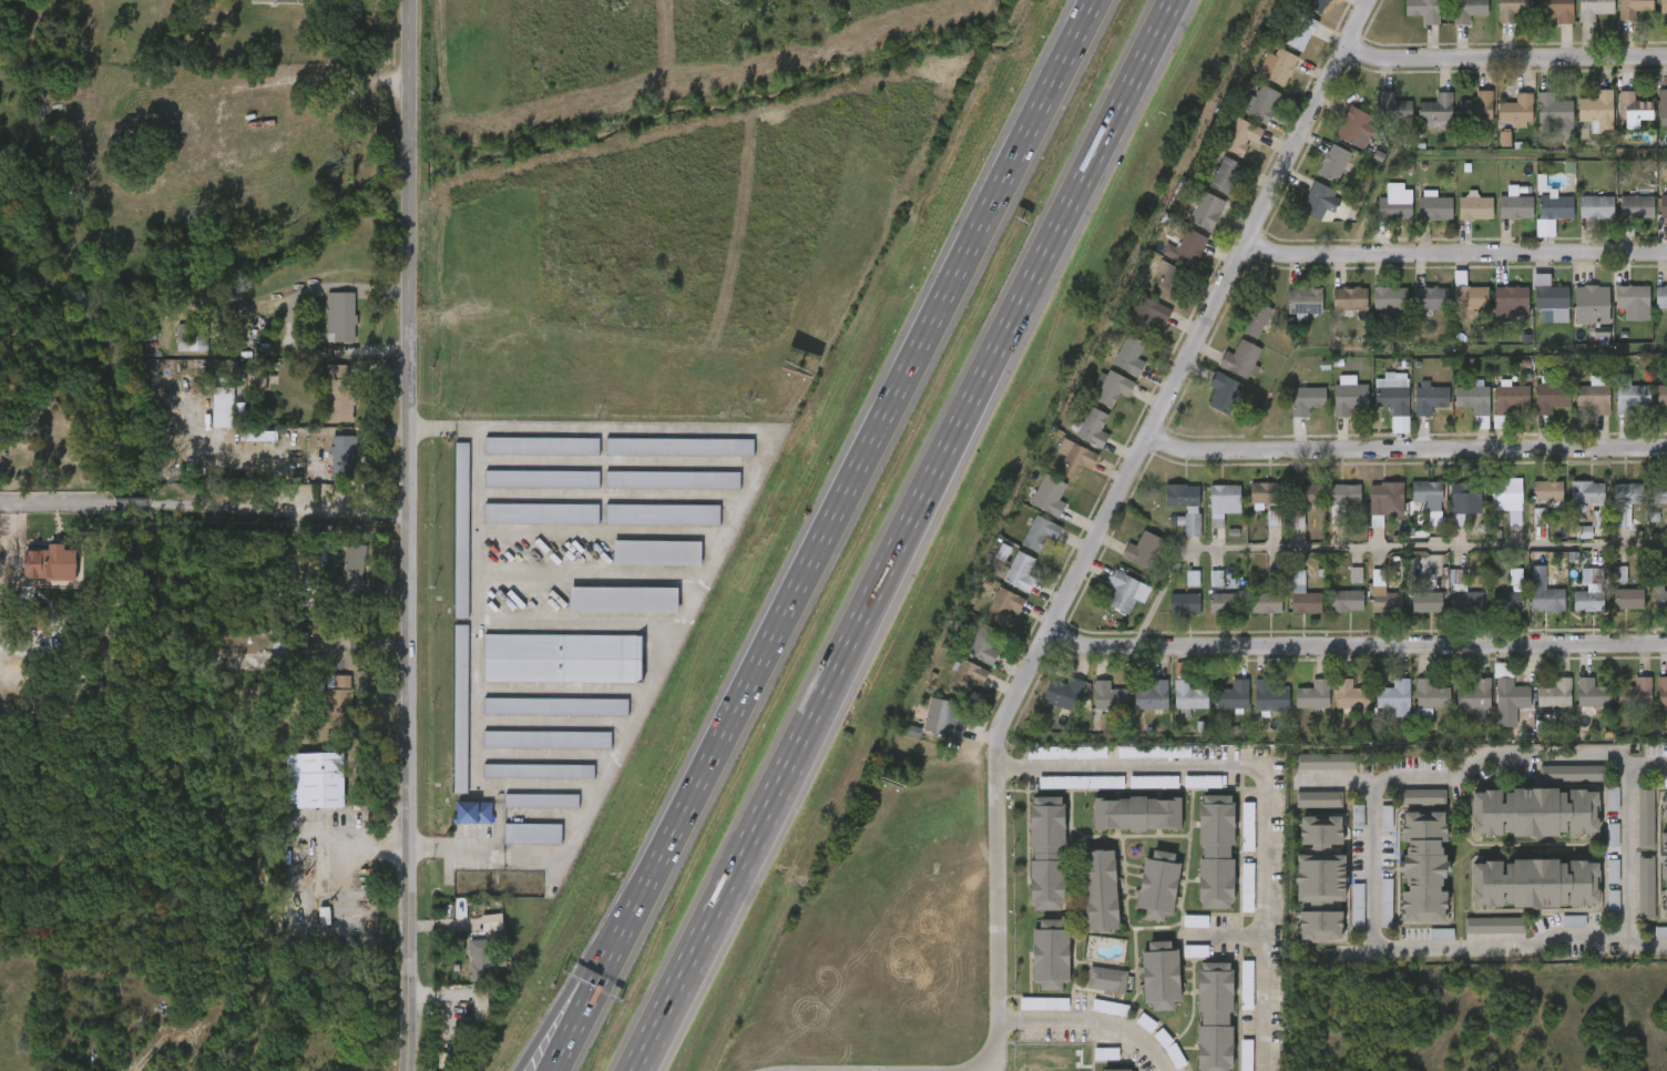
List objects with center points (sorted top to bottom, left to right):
building: (1316, 3)
building: (258, 8)
building: (1632, 8)
building: (1512, 9)
building: (1593, 9)
building: (1301, 10)
building: (1422, 10)
building: (1467, 10)
building: (1556, 10)
building: (1663, 11)
building: (1408, 18)
building: (1578, 18)
building: (1618, 18)
building: (1540, 19)
building: (1452, 21)
building: (1300, 31)
building: (1284, 45)
road: (1505, 58)
building: (1281, 67)
building: (1262, 79)
building: (1260, 103)
building: (1663, 103)
building: (1476, 106)
building: (1393, 108)
building: (1435, 108)
building: (1634, 108)
building: (1515, 110)
building: (1597, 110)
building: (1554, 114)
building: (1245, 118)
building: (1653, 118)
building: (1461, 120)
building: (1377, 121)
building: (1420, 123)
building: (1617, 123)
building: (1501, 124)
building: (1581, 125)
building: (1352, 126)
building: (1540, 126)
building: (1240, 135)
building: (1339, 141)
building: (1225, 149)
building: (1490, 151)
building: (1332, 163)
building: (1225, 174)
building: (1317, 176)
building: (1208, 187)
building: (1318, 201)
building: (1394, 204)
building: (1663, 206)
building: (1434, 207)
building: (1475, 207)
building: (1515, 207)
building: (1555, 207)
building: (1594, 207)
building: (1636, 207)
building: (1206, 211)
building: (1303, 214)
building: (1379, 216)
building: (1620, 218)
building: (1499, 220)
building: (1419, 221)
building: (1459, 221)
building: (1579, 221)
building: (1190, 224)
building: (1536, 225)
building: (1187, 248)
road: (1455, 253)
building: (1170, 262)
building: (1169, 283)
building: (1152, 293)
building: (1660, 297)
building: (1389, 298)
building: (1430, 298)
building: (1510, 298)
building: (1630, 298)
building: (1349, 300)
building: (1551, 300)
building: (1303, 302)
building: (1591, 306)
building: (1653, 309)
building: (1454, 310)
building: (1494, 310)
building: (1333, 312)
building: (1373, 312)
building: (1414, 312)
building: (1534, 313)
building: (1146, 314)
building: (1288, 314)
building: (1616, 315)
building: (1575, 318)
building: (1254, 319)
building: (1131, 326)
building: (325, 329)
building: (1239, 333)
building: (176, 351)
building: (1128, 355)
building: (1240, 359)
building: (1114, 368)
building: (1226, 373)
building: (256, 378)
road: (978, 381)
building: (1112, 388)
building: (338, 390)
building: (241, 392)
building: (1223, 394)
building: (1391, 395)
building: (1661, 396)
building: (1348, 398)
building: (1429, 398)
building: (1552, 398)
building: (1306, 399)
building: (1632, 399)
building: (1472, 400)
building: (1512, 400)
building: (1593, 400)
building: (1096, 401)
building: (320, 404)
building: (224, 405)
building: (1207, 406)
building: (1332, 409)
building: (1577, 409)
building: (1413, 410)
building: (1494, 410)
building: (1534, 410)
building: (1616, 410)
building: (1378, 411)
building: (1456, 411)
building: (1290, 412)
building: (207, 419)
building: (1093, 428)
building: (1077, 440)
building: (541, 445)
building: (679, 446)
building: (243, 449)
road: (1405, 449)
building: (1075, 458)
building: (525, 459)
building: (664, 460)
building: (326, 470)
building: (1059, 471)
road: (852, 473)
building: (541, 478)
building: (672, 479)
building: (1547, 490)
building: (525, 491)
building: (656, 492)
building: (1587, 492)
building: (1267, 493)
building: (1464, 493)
building: (1628, 493)
building: (1659, 493)
building: (1051, 494)
building: (1305, 494)
building: (1225, 496)
building: (1428, 497)
building: (1384, 498)
building: (1505, 498)
building: (1343, 501)
building: (1531, 503)
building: (1185, 504)
building: (1571, 504)
building: (1653, 506)
building: (1329, 507)
road: (282, 508)
building: (1245, 508)
building: (1290, 508)
building: (1033, 509)
road: (135, 512)
building: (541, 512)
building: (1412, 512)
building: (662, 513)
building: (1448, 513)
road: (71, 514)
building: (1207, 514)
building: (1369, 514)
building: (1492, 514)
road: (12, 516)
building: (1607, 518)
building: (1297, 519)
road: (1106, 521)
building: (1176, 523)
building: (525, 527)
building: (646, 527)
building: (461, 529)
building: (1257, 531)
building: (1659, 531)
building: (1040, 532)
road: (601, 534)
road: (409, 535)
building: (446, 542)
building: (1023, 545)
road: (1374, 545)
road: (718, 551)
building: (1144, 551)
building: (656, 552)
building: (60, 563)
building: (1126, 563)
building: (641, 565)
building: (1021, 572)
road: (591, 575)
building: (1619, 575)
building: (35, 577)
building: (337, 583)
building: (1004, 585)
building: (1339, 588)
building: (1604, 588)
building: (1499, 589)
building: (1123, 591)
building: (1589, 591)
building: (1383, 595)
building: (1303, 596)
building: (1660, 596)
building: (623, 599)
building: (1627, 599)
building: (1546, 600)
building: (1346, 601)
building: (1511, 601)
building: (1426, 602)
building: (1466, 602)
building: (1224, 603)
building: (1266, 603)
building: (1004, 604)
building: (1109, 604)
building: (1184, 604)
building: (1573, 604)
building: (1446, 605)
building: (1527, 605)
building: (1367, 608)
building: (1287, 609)
building: (607, 612)
building: (1610, 612)
building: (1329, 614)
building: (1491, 614)
building: (1168, 615)
building: (1249, 615)
building: (1411, 615)
building: (1206, 616)
building: (988, 618)
road: (579, 623)
building: (290, 642)
building: (984, 642)
road: (1359, 643)
road: (345, 655)
building: (968, 656)
building: (275, 657)
building: (563, 657)
road: (475, 671)
building: (967, 677)
building: (951, 690)
road: (562, 691)
building: (1063, 694)
building: (1351, 694)
building: (1555, 694)
building: (1592, 694)
building: (1663, 694)
building: (1313, 695)
building: (1393, 695)
building: (1431, 695)
building: (1636, 695)
building: (1153, 696)
building: (1189, 696)
building: (1233, 696)
building: (1472, 696)
building: (1269, 697)
building: (1107, 698)
building: (1510, 702)
building: (1619, 705)
building: (460, 706)
building: (555, 706)
building: (1047, 706)
building: (1538, 706)
building: (1575, 706)
building: (1256, 707)
building: (1297, 707)
building: (1334, 707)
building: (1093, 708)
building: (1136, 708)
building: (1217, 708)
building: (1456, 708)
building: (1492, 708)
building: (1653, 708)
building: (321, 710)
building: (1379, 710)
building: (1413, 710)
building: (1173, 711)
building: (540, 720)
building: (949, 720)
building: (444, 721)
road: (553, 725)
building: (929, 730)
building: (546, 738)
building: (531, 753)
road: (545, 757)
building: (1326, 762)
building: (1050, 765)
building: (1137, 765)
building: (538, 771)
building: (1309, 774)
building: (314, 779)
road: (1337, 781)
building: (523, 784)
building: (1554, 786)
road: (1260, 793)
building: (1186, 794)
building: (1064, 795)
building: (1137, 795)
building: (542, 799)
building: (1319, 799)
building: (1404, 809)
building: (473, 812)
building: (1302, 812)
building: (525, 813)
building: (1136, 814)
building: (1535, 814)
building: (458, 825)
building: (1341, 829)
building: (1369, 829)
building: (1629, 830)
building: (533, 833)
building: (517, 846)
road: (361, 848)
building: (1596, 848)
building: (1216, 853)
building: (1046, 855)
road: (1629, 855)
building: (1664, 856)
road: (1373, 861)
building: (1200, 864)
building: (1031, 866)
building: (1423, 868)
building: (1320, 877)
building: (1157, 885)
building: (1537, 885)
building: (1098, 892)
building: (1230, 899)
building: (1084, 902)
building: (1628, 904)
road: (707, 915)
building: (1369, 915)
building: (1341, 920)
building: (1179, 934)
building: (1557, 934)
road: (1225, 936)
building: (1477, 938)
building: (1650, 945)
building: (1424, 947)
building: (1050, 955)
building: (480, 963)
building: (1179, 963)
building: (467, 975)
building: (1158, 976)
building: (1106, 981)
building: (1091, 992)
road: (438, 994)
building: (480, 1000)
road: (560, 1006)
road: (570, 1006)
building: (464, 1013)
building: (1027, 1016)
building: (1214, 1017)
building: (1094, 1020)
road: (1094, 1024)
building: (1090, 1065)
building: (1116, 1069)

